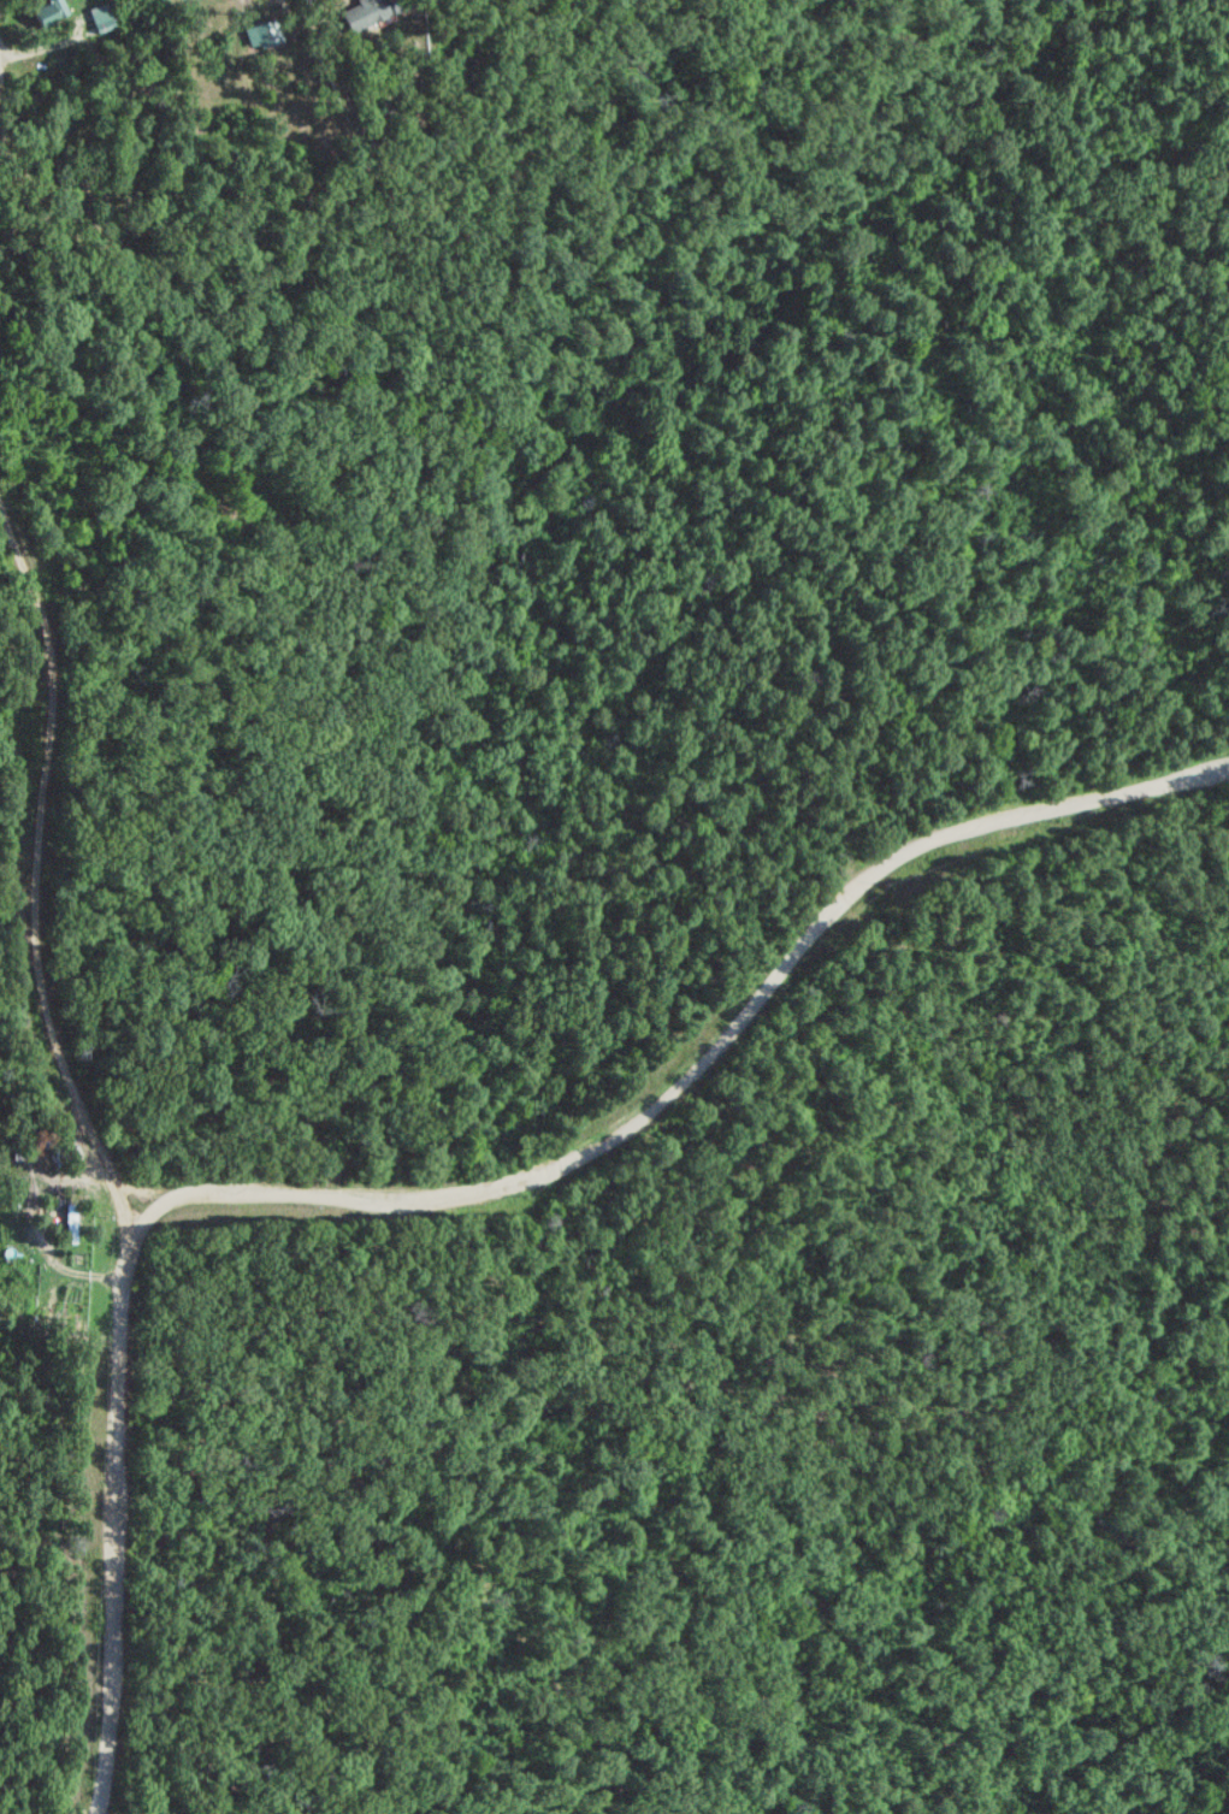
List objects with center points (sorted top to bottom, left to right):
building: (368, 11)
building: (262, 34)
road: (195, 1196)
road: (90, 1512)

